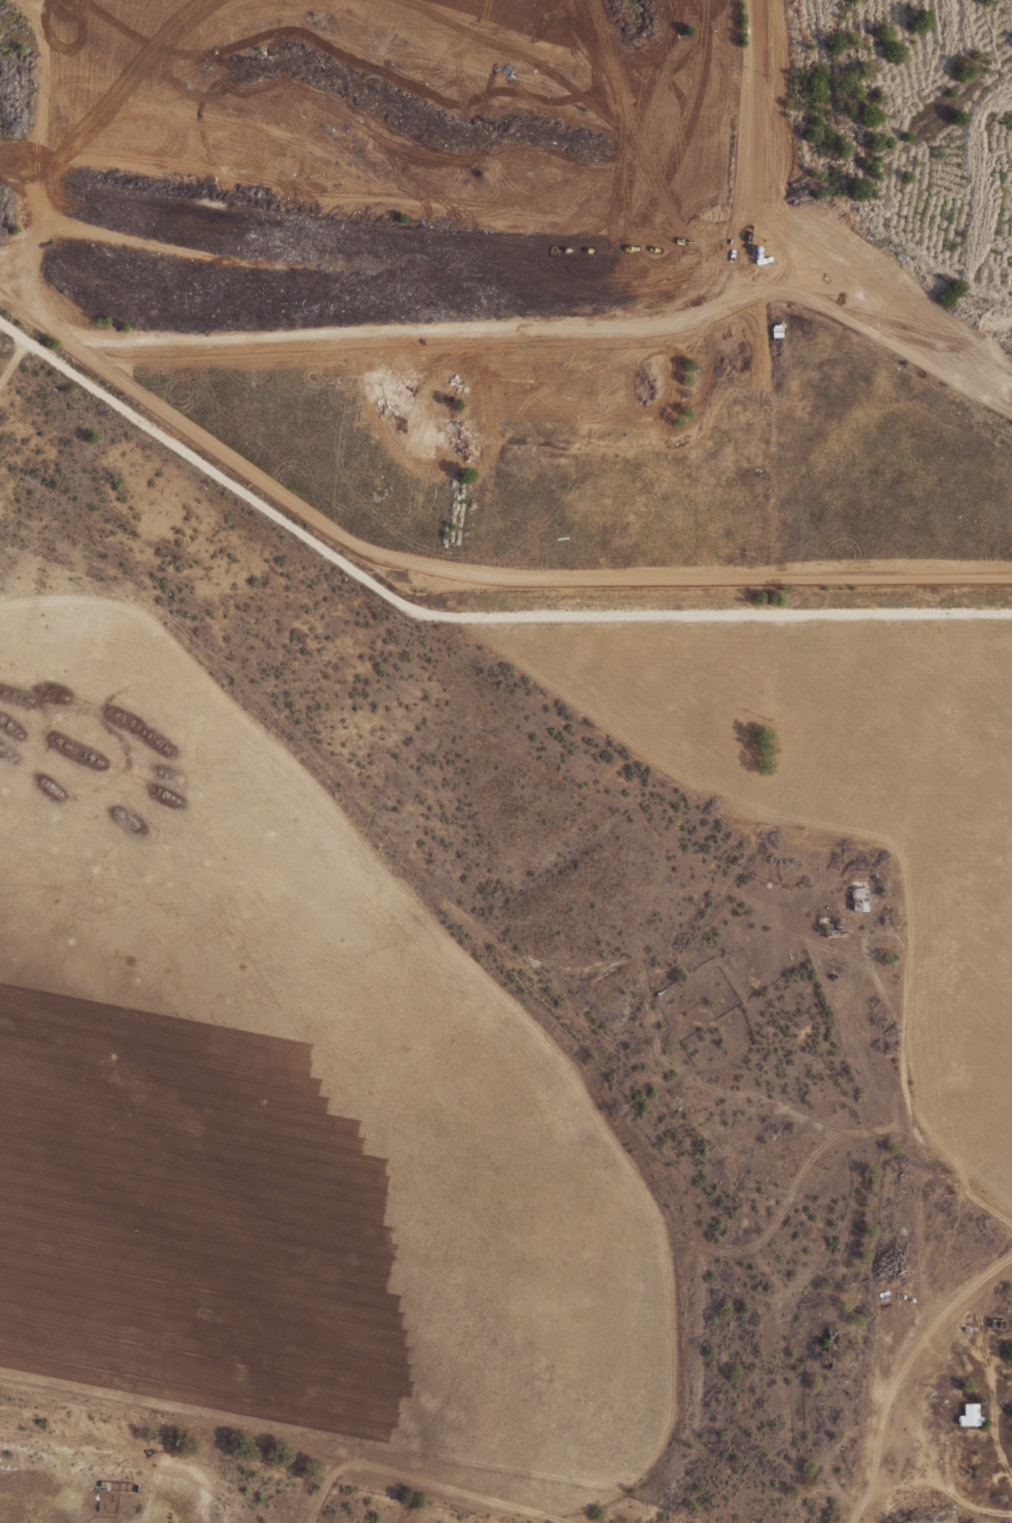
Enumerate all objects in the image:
building: (707, 15)
road: (801, 306)
road: (866, 315)
road: (544, 334)
road: (12, 359)
building: (432, 404)
road: (460, 614)
building: (858, 899)
road: (902, 1031)
road: (961, 1188)
road: (923, 1338)
building: (966, 1414)
road: (174, 1418)
road: (878, 1427)
road: (998, 1448)
road: (935, 1469)
road: (424, 1478)
road: (325, 1487)
road: (552, 1511)

